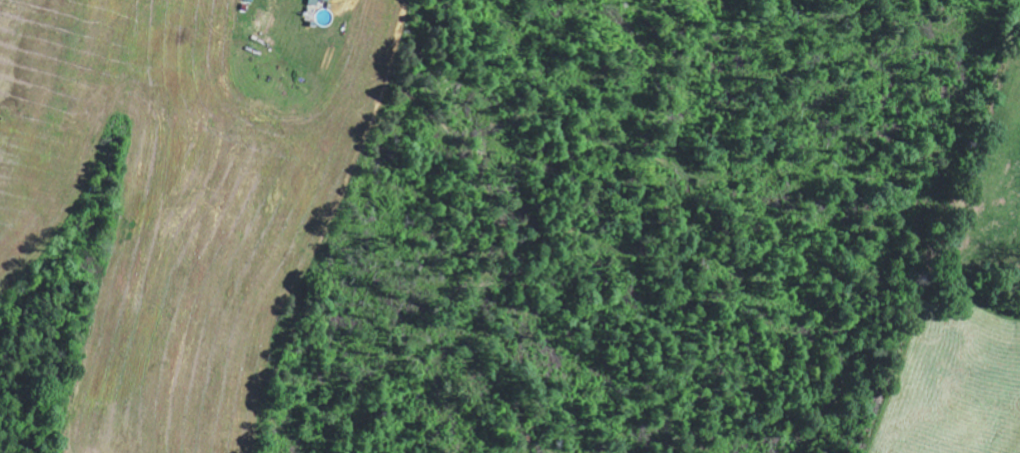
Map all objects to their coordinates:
building: (316, 2)

